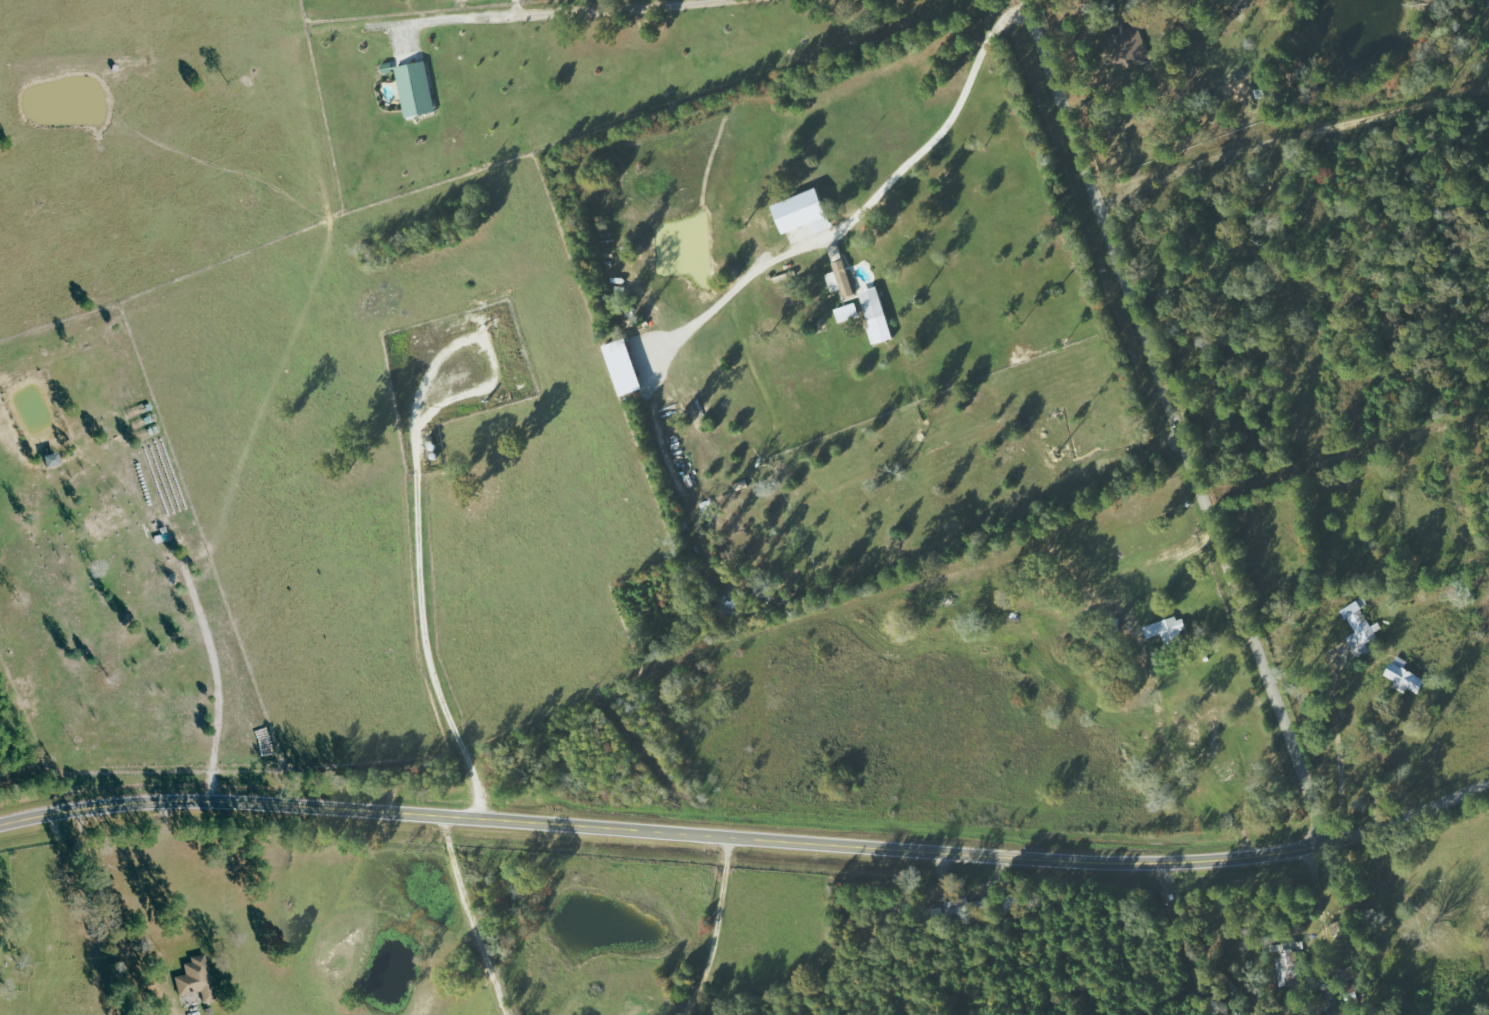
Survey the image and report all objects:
building: (1131, 47)
building: (413, 89)
building: (805, 211)
building: (842, 278)
building: (848, 312)
building: (877, 315)
building: (625, 366)
road: (1177, 423)
building: (53, 460)
building: (1362, 627)
building: (1165, 631)
building: (1407, 676)
road: (389, 677)
building: (1206, 739)
road: (1420, 811)
road: (676, 834)
building: (963, 907)
road: (709, 923)
building: (1288, 963)
building: (197, 979)

